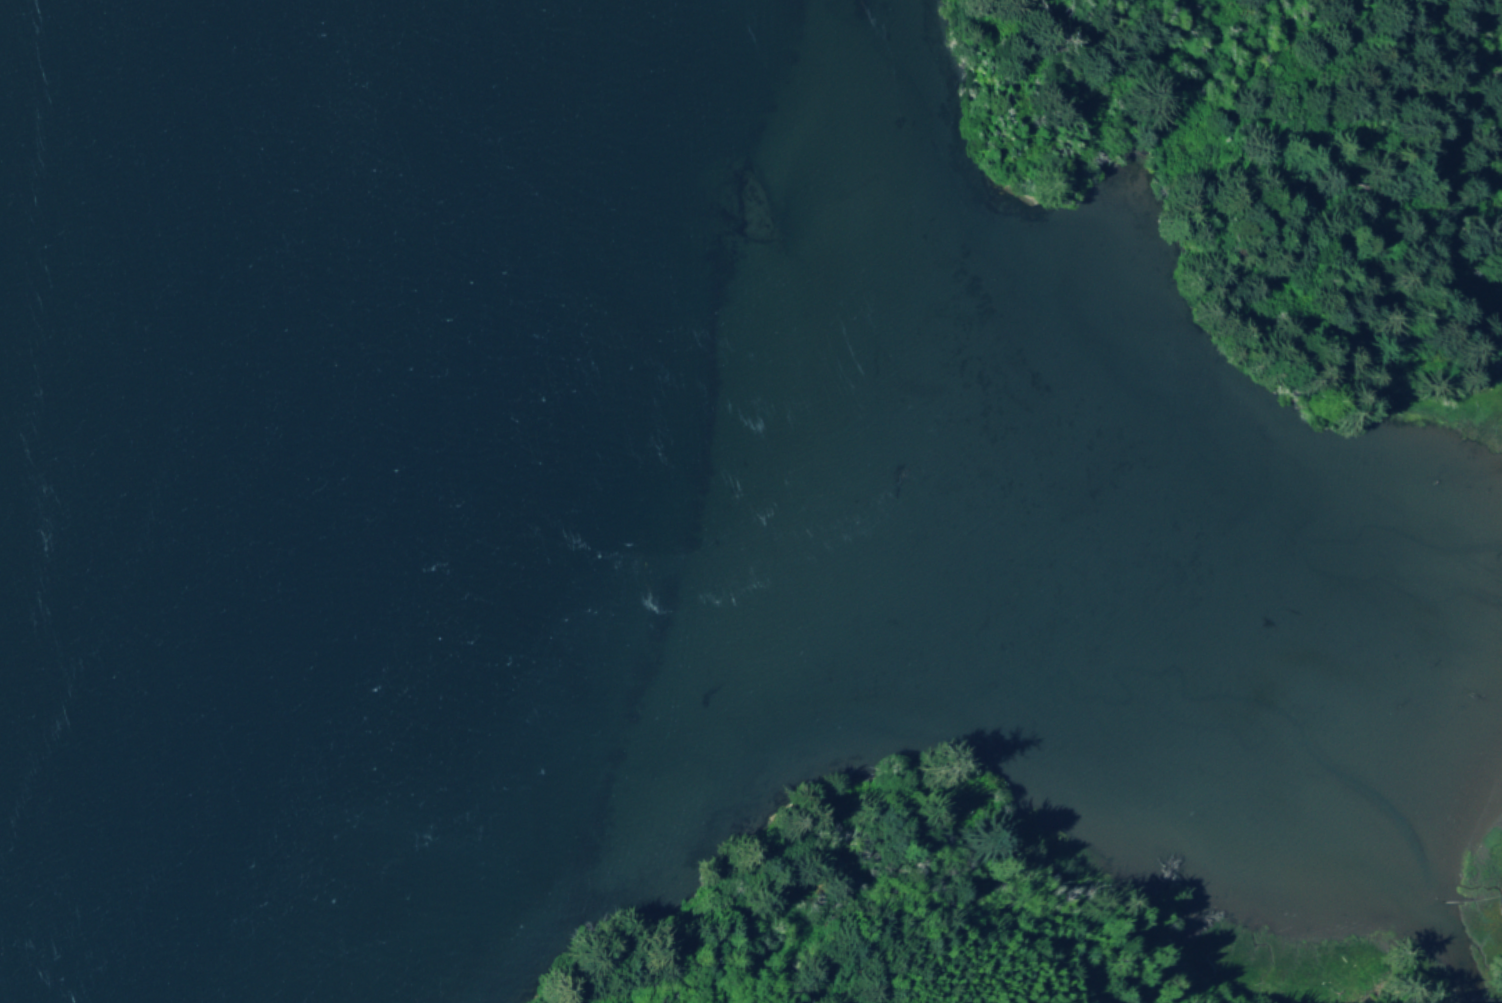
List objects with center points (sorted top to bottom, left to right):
river: (79, 173)

